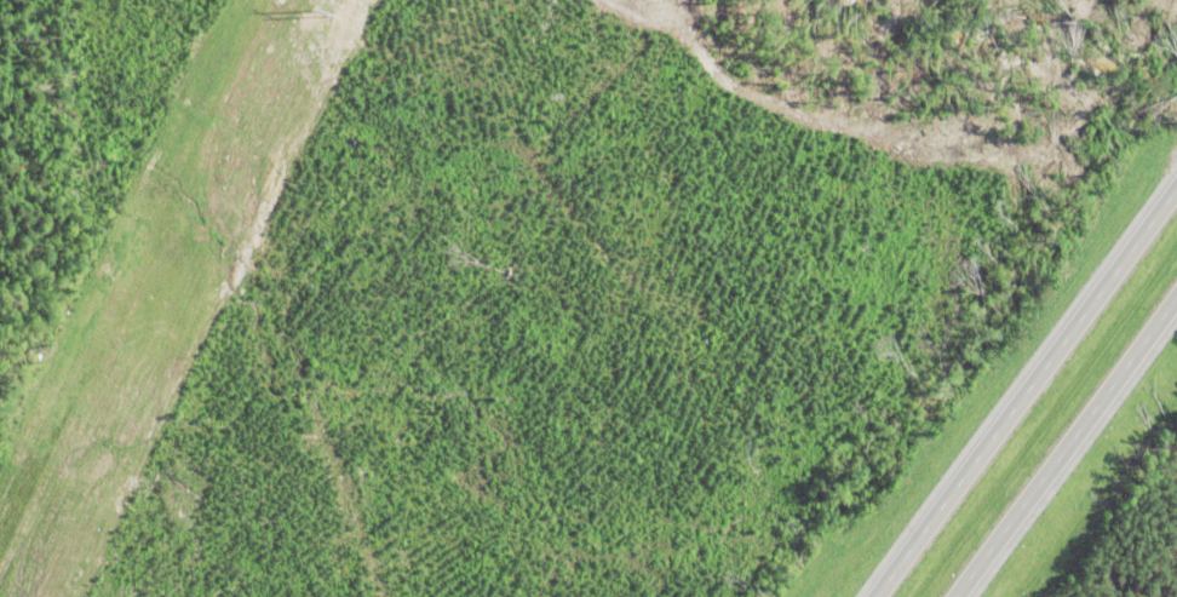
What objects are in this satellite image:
power tower: (316, 12)
road: (1022, 386)
road: (1063, 441)

